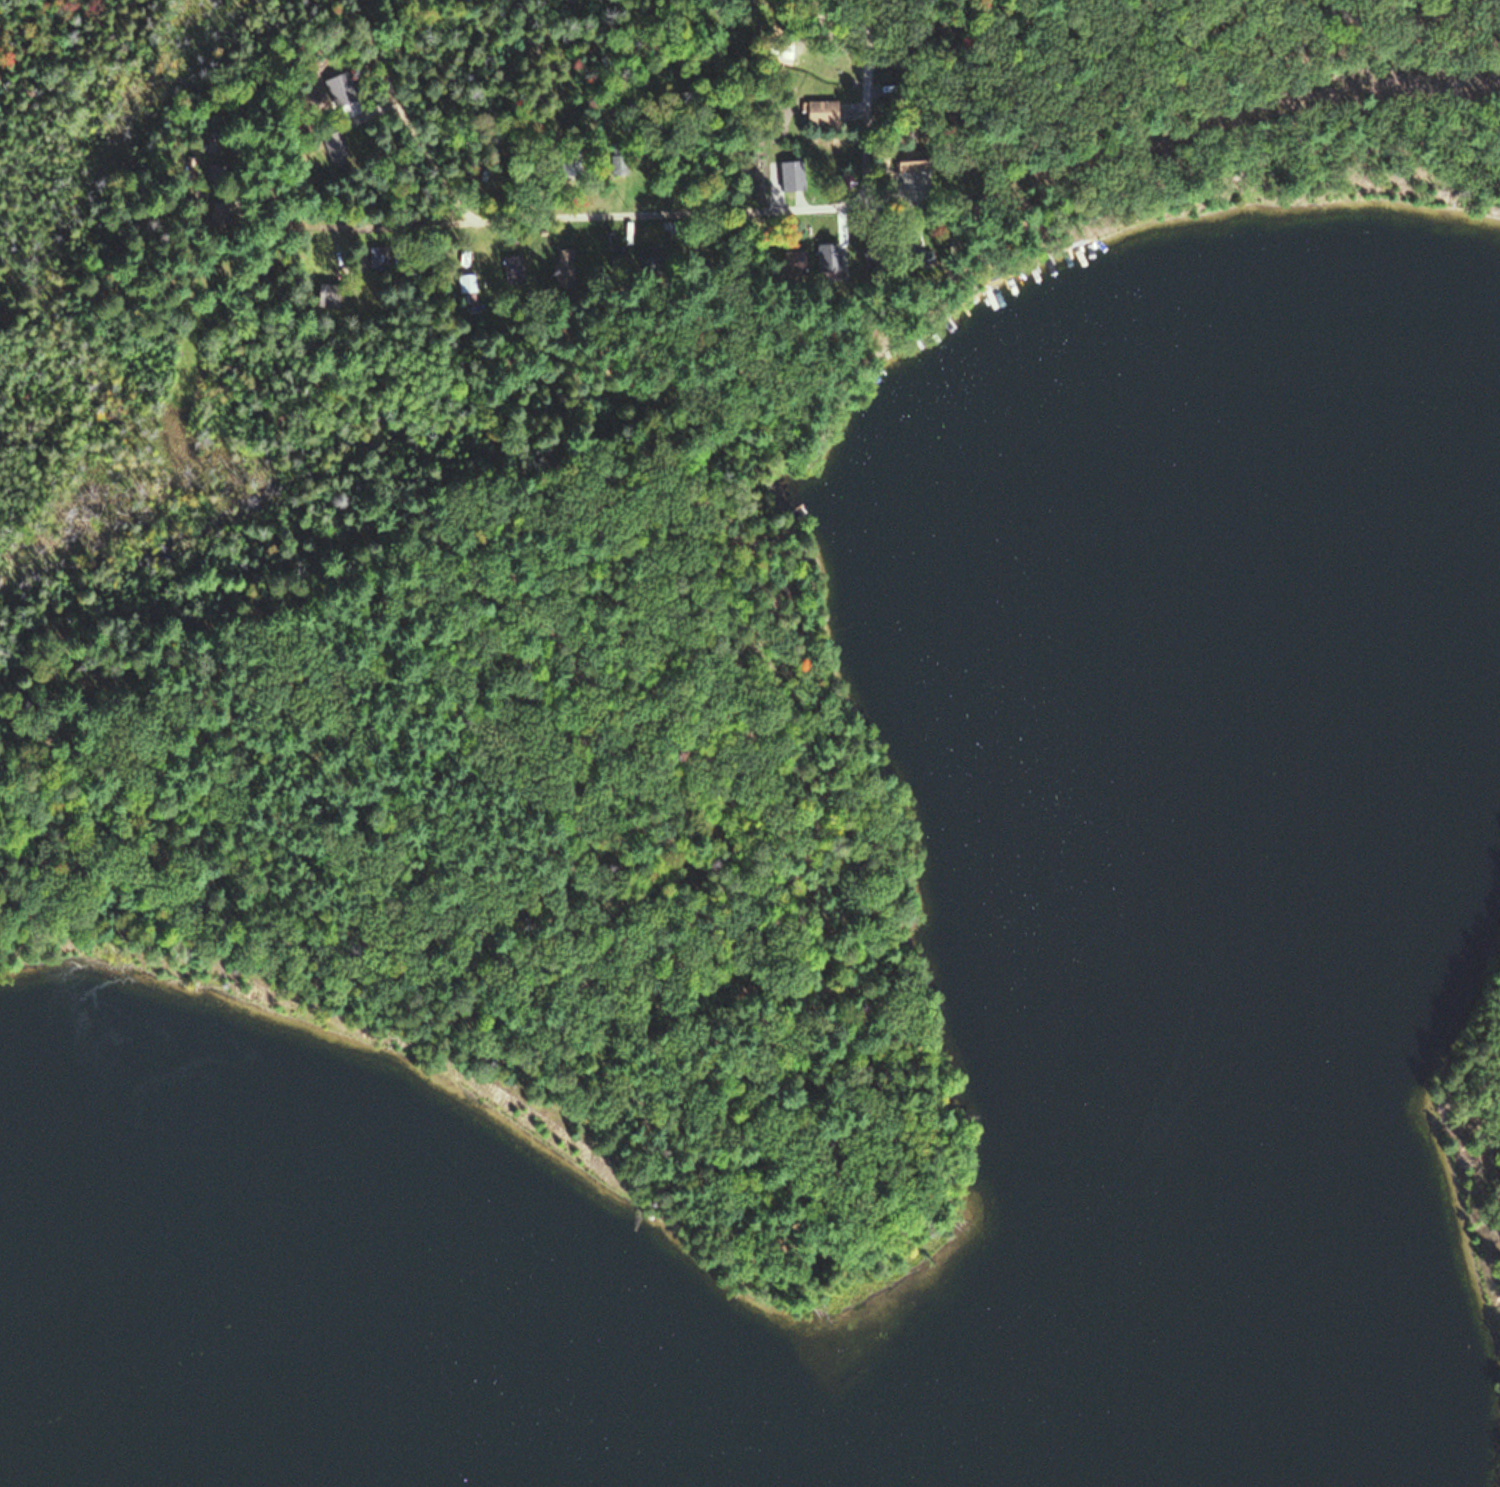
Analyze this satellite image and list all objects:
building: (818, 111)
road: (1236, 112)
building: (330, 144)
building: (907, 161)
building: (787, 174)
road: (754, 206)
road: (357, 225)
road: (456, 234)
building: (824, 257)
building: (616, 258)
building: (646, 259)
building: (788, 260)
building: (558, 265)
building: (511, 270)
building: (463, 283)
building: (321, 295)
river: (1218, 964)
river: (107, 1470)

